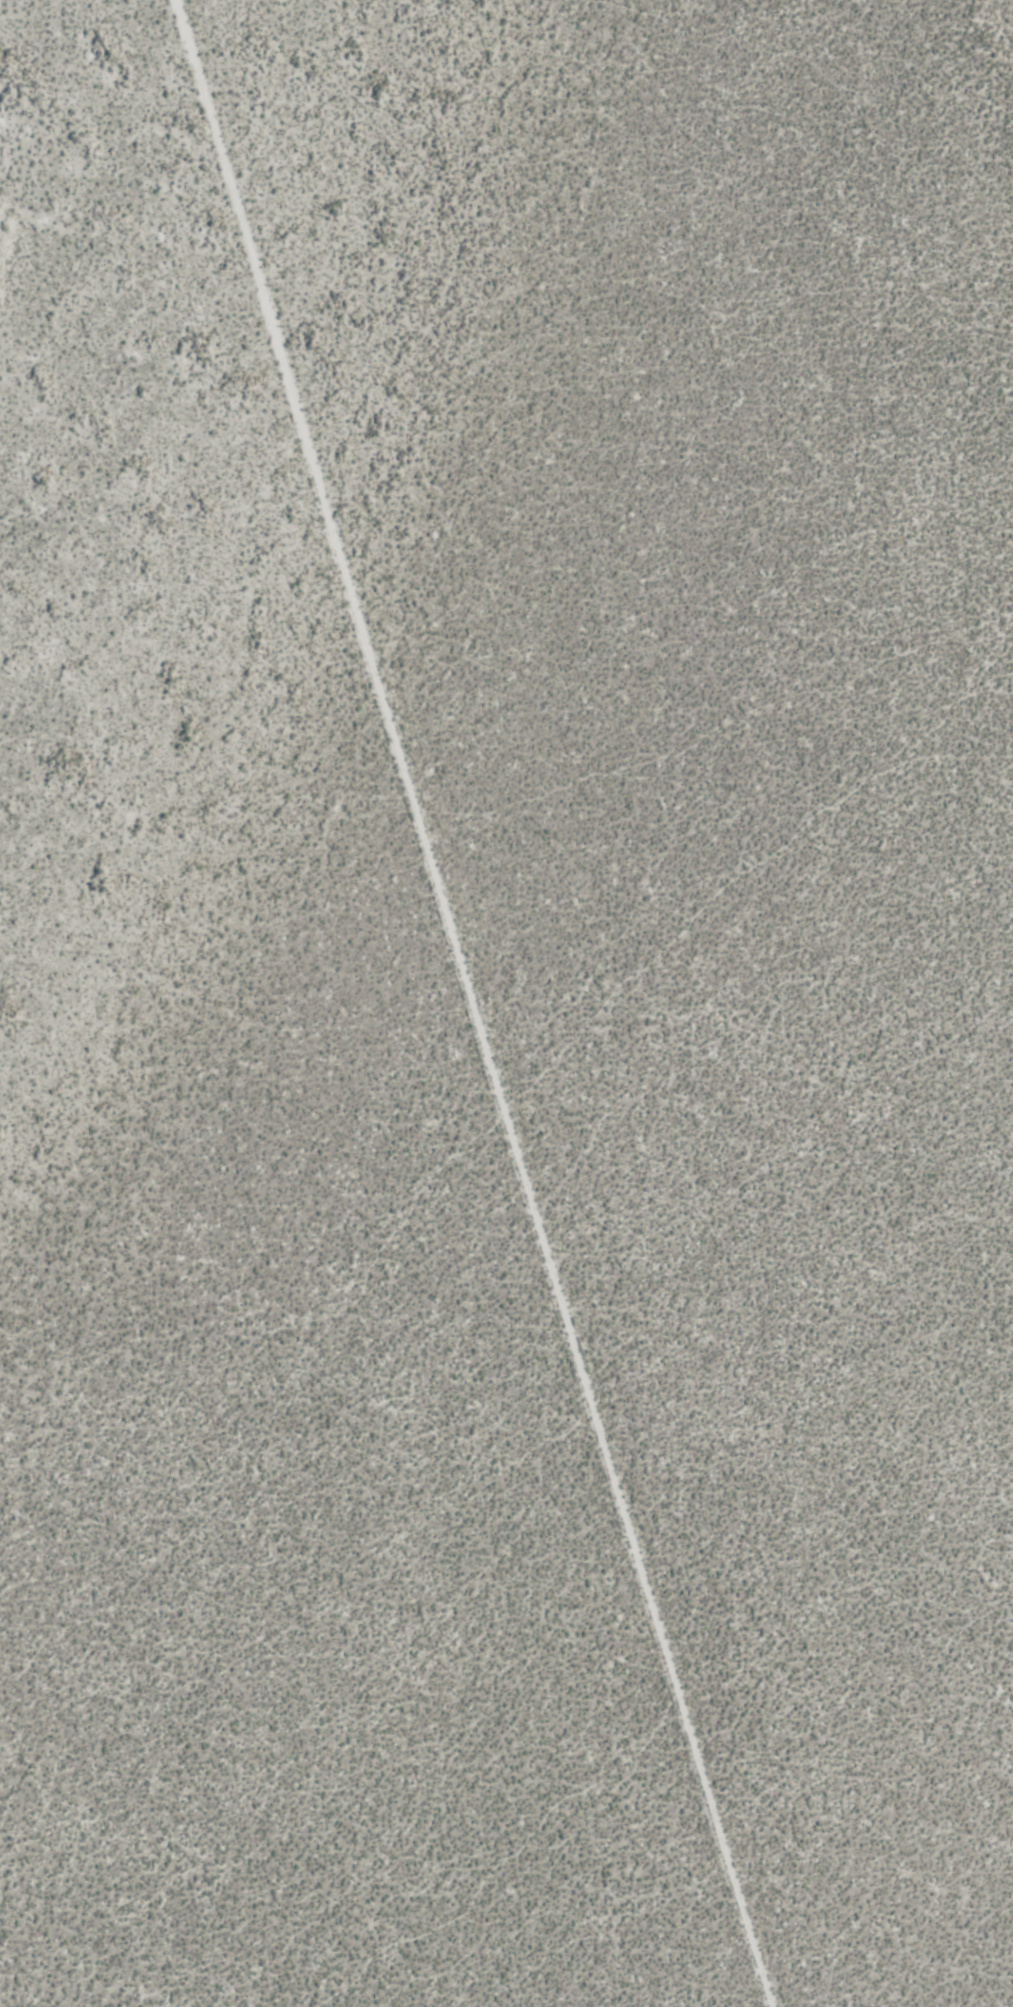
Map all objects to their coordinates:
road: (473, 1003)

